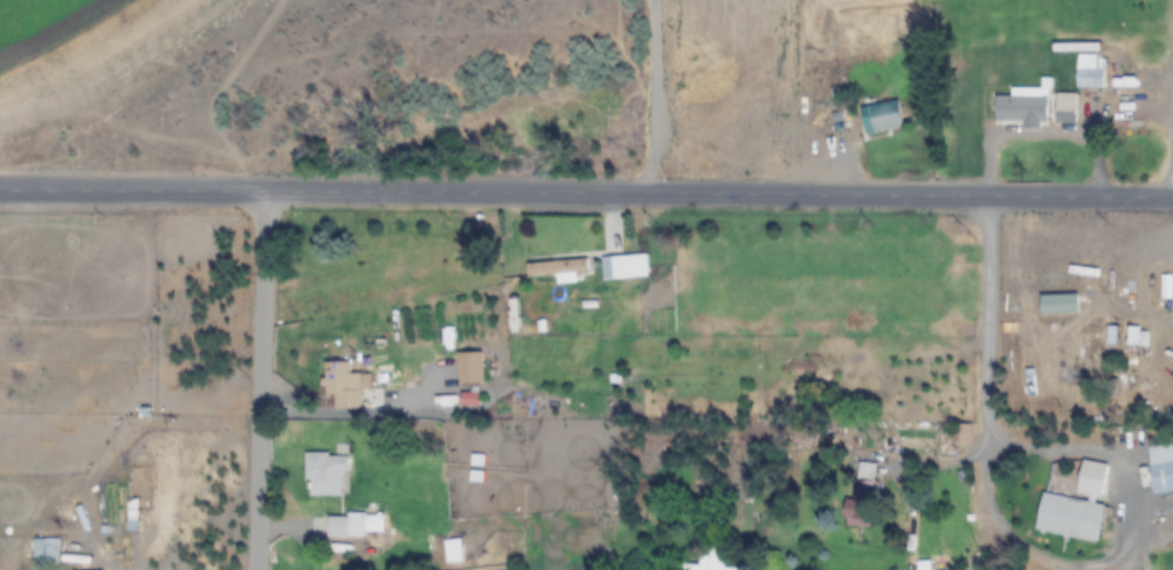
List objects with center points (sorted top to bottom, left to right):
crop: (620, 22)
building: (1090, 66)
road: (652, 98)
building: (1037, 106)
building: (882, 117)
building: (1140, 124)
road: (585, 194)
building: (641, 266)
building: (614, 267)
building: (558, 269)
road: (984, 302)
building: (1060, 303)
building: (471, 367)
road: (258, 380)
building: (346, 385)
building: (467, 399)
building: (1161, 469)
building: (326, 475)
building: (1092, 478)
building: (864, 494)
building: (133, 514)
building: (1069, 517)
building: (355, 525)
building: (46, 551)
building: (708, 562)
building: (923, 566)

